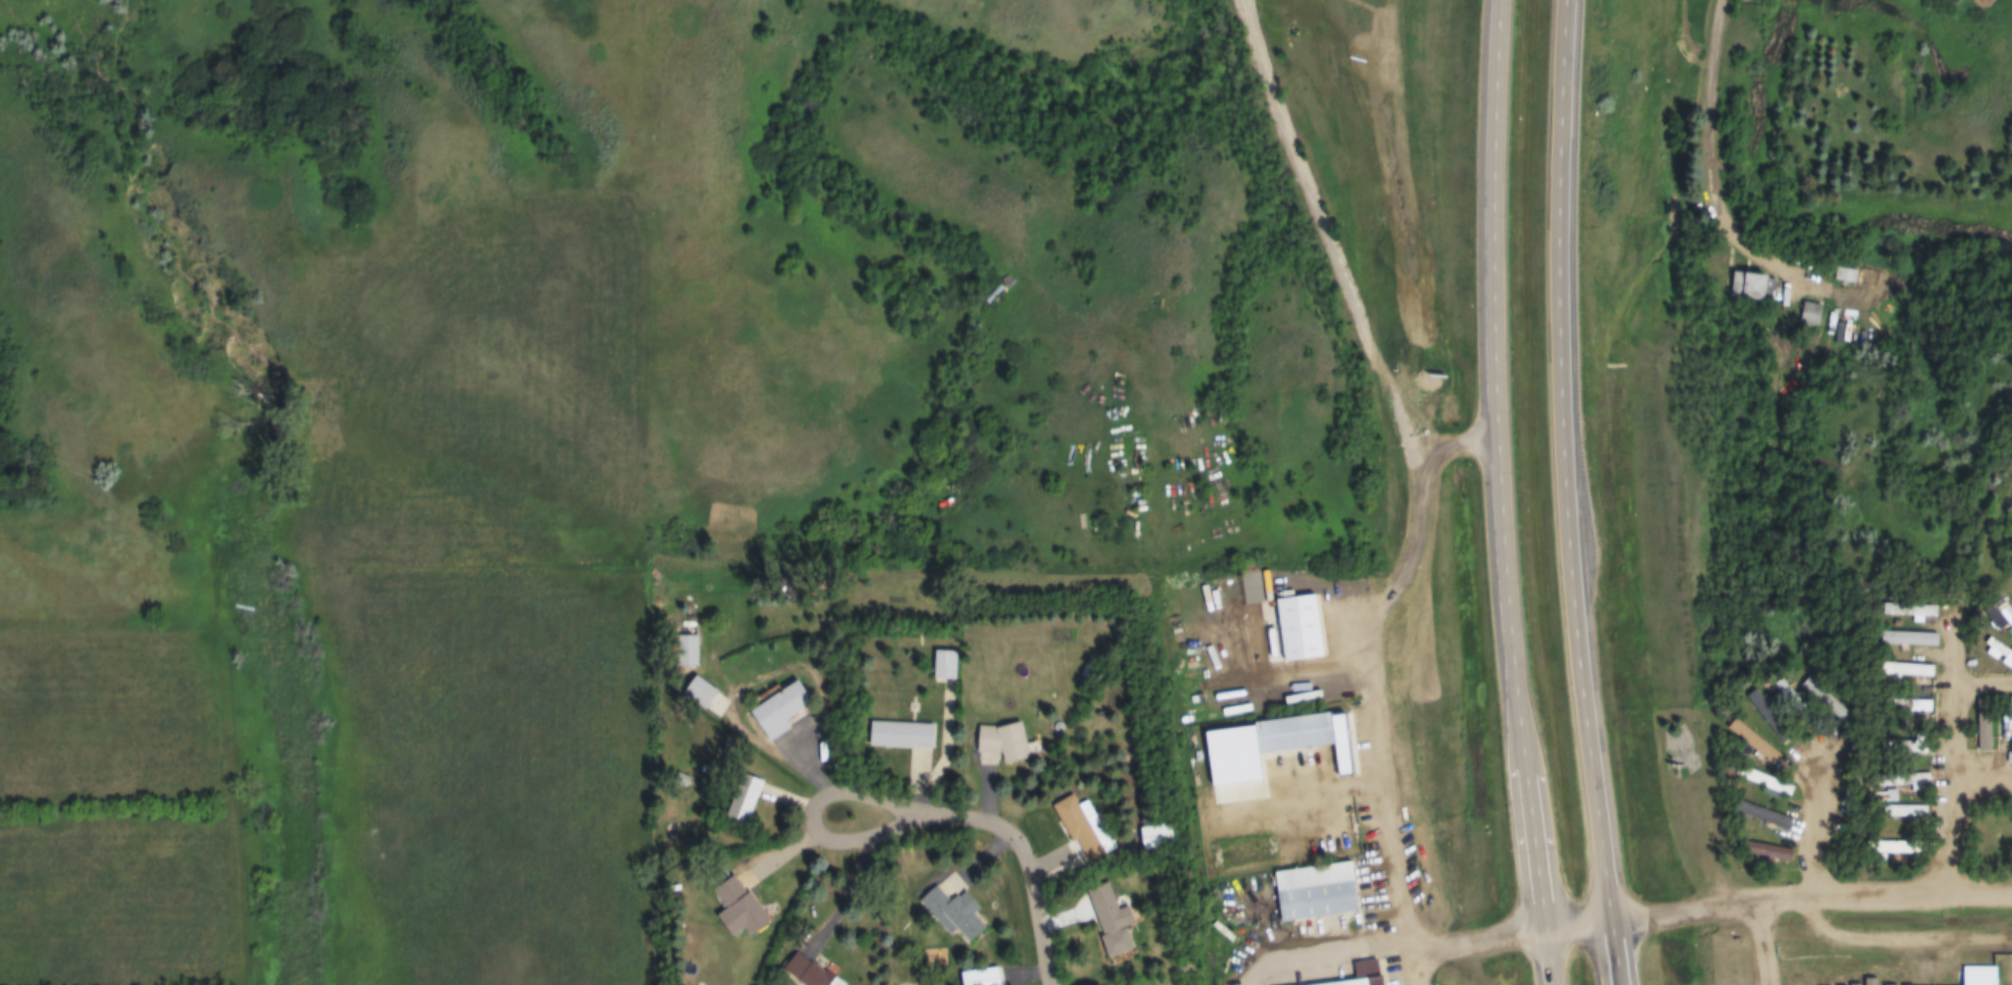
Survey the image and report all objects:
road: (1712, 156)
building: (1849, 276)
building: (1755, 288)
building: (997, 295)
building: (1814, 315)
road: (1459, 440)
road: (1429, 484)
road: (1574, 493)
road: (1502, 494)
building: (1066, 542)
building: (1910, 613)
building: (1296, 630)
building: (696, 651)
building: (2000, 654)
building: (944, 666)
building: (1905, 674)
building: (783, 712)
building: (1921, 714)
building: (2011, 722)
road: (1949, 723)
building: (1986, 732)
building: (1298, 733)
building: (901, 735)
building: (1747, 739)
road: (950, 740)
building: (1000, 745)
building: (1908, 749)
building: (1904, 781)
building: (1763, 783)
road: (1304, 789)
building: (748, 800)
building: (1905, 813)
road: (811, 820)
building: (1084, 830)
building: (1155, 837)
building: (1897, 848)
road: (1034, 869)
road: (1814, 891)
building: (1313, 893)
building: (743, 906)
road: (1822, 912)
building: (953, 913)
road: (1584, 922)
building: (1112, 924)
road: (1761, 941)
road: (1394, 942)
building: (806, 971)
building: (1364, 973)
building: (1978, 976)
building: (978, 978)

